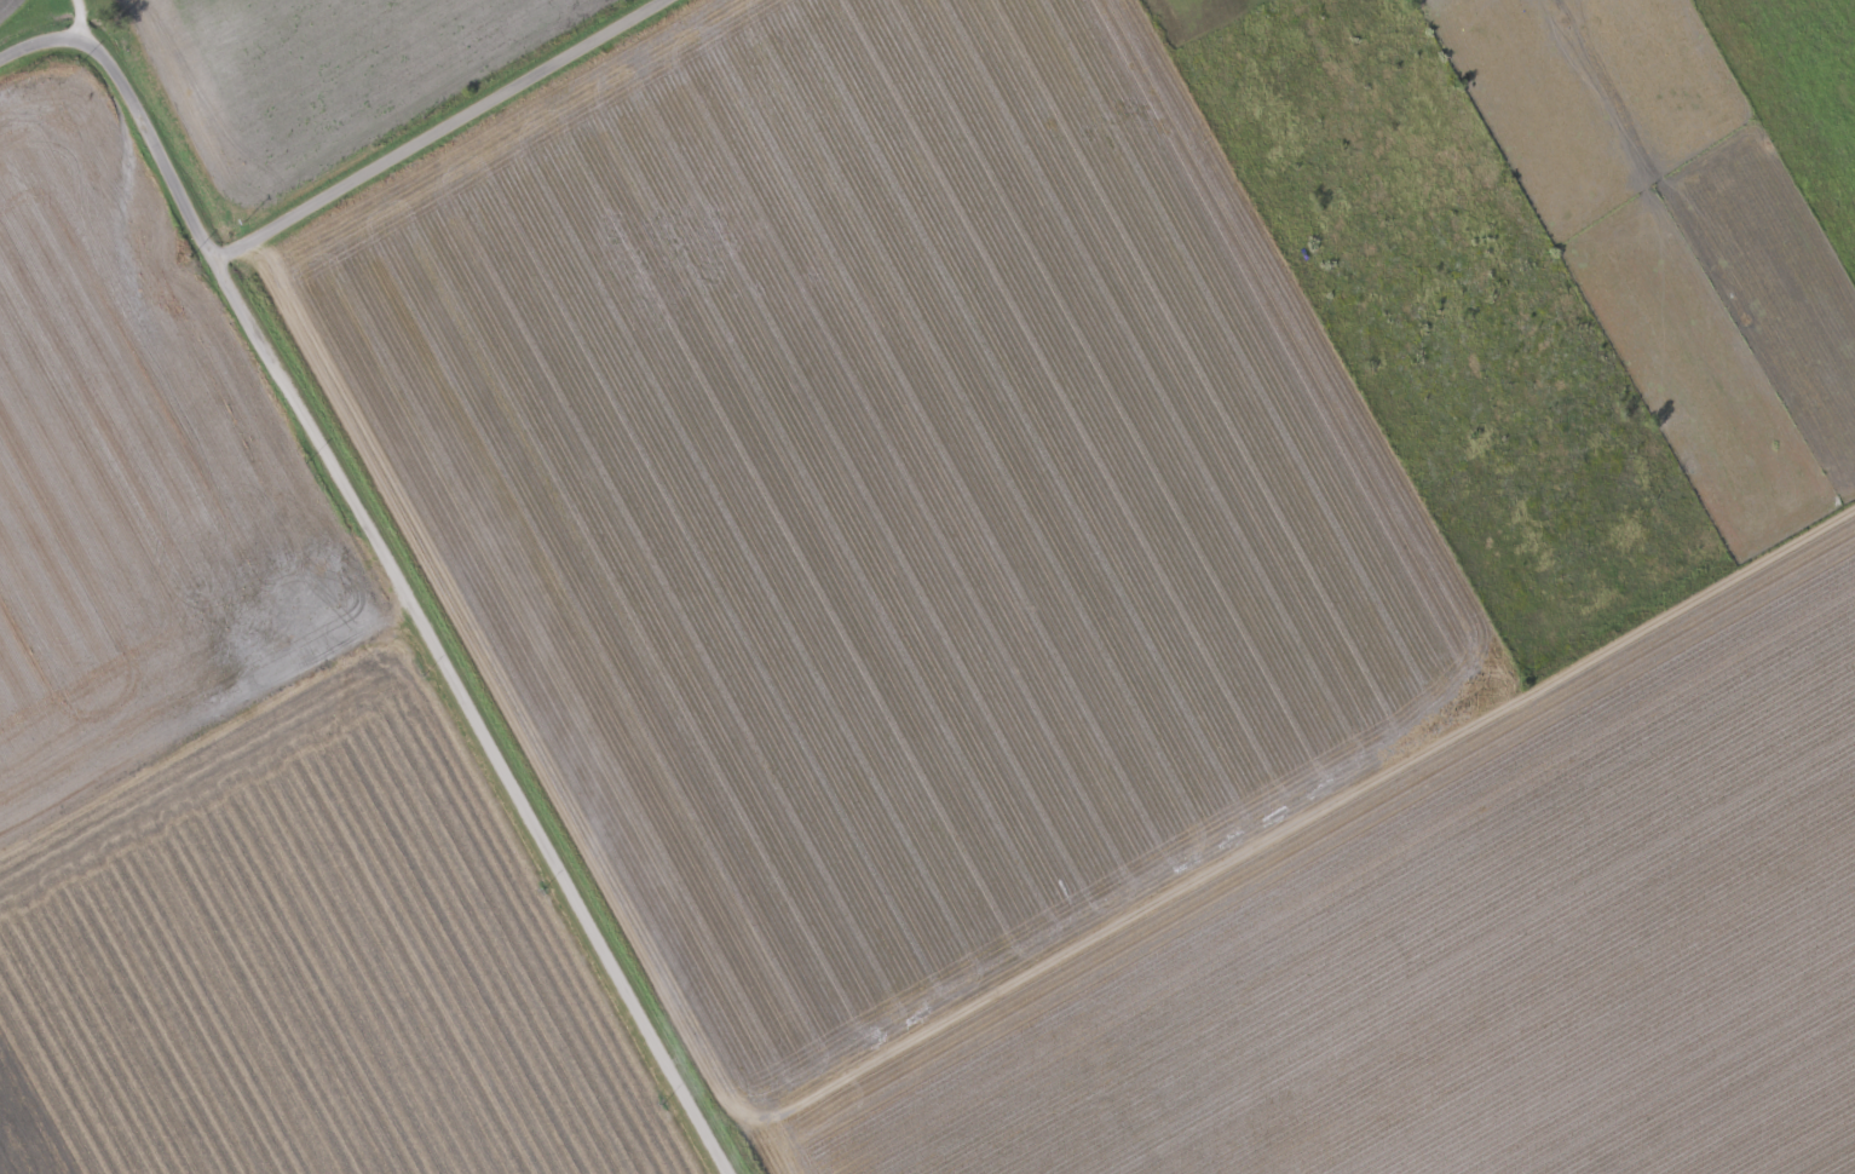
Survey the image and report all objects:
road: (88, 11)
road: (48, 40)
road: (439, 130)
road: (411, 599)

